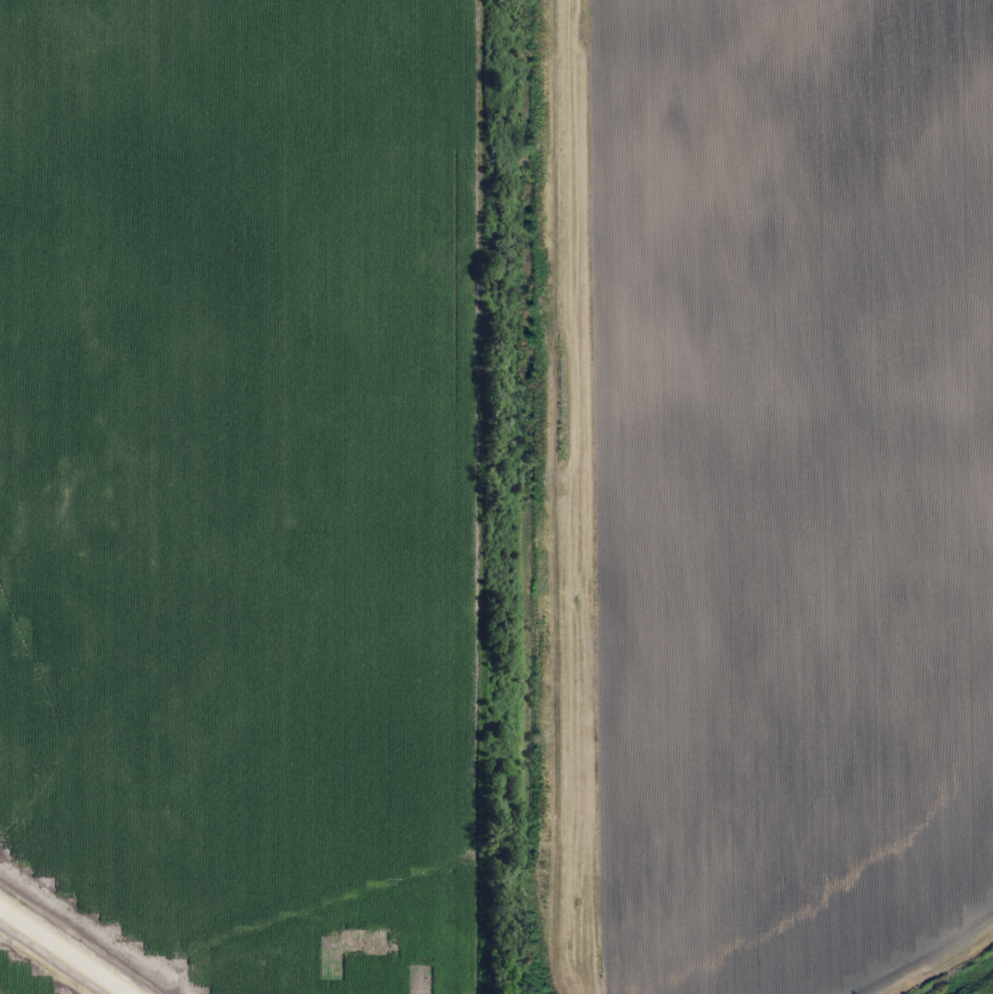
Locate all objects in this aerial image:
road: (64, 950)

